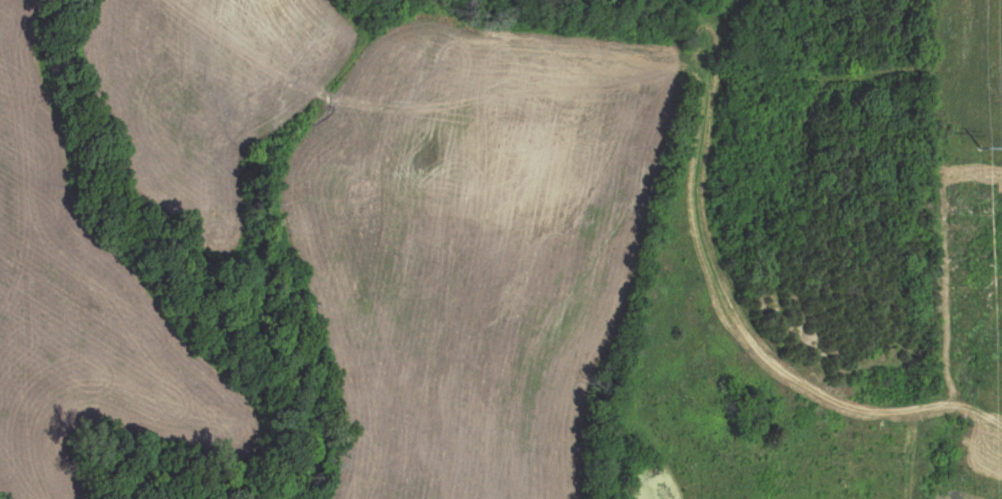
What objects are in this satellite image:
power tower: (984, 151)
road: (759, 308)

